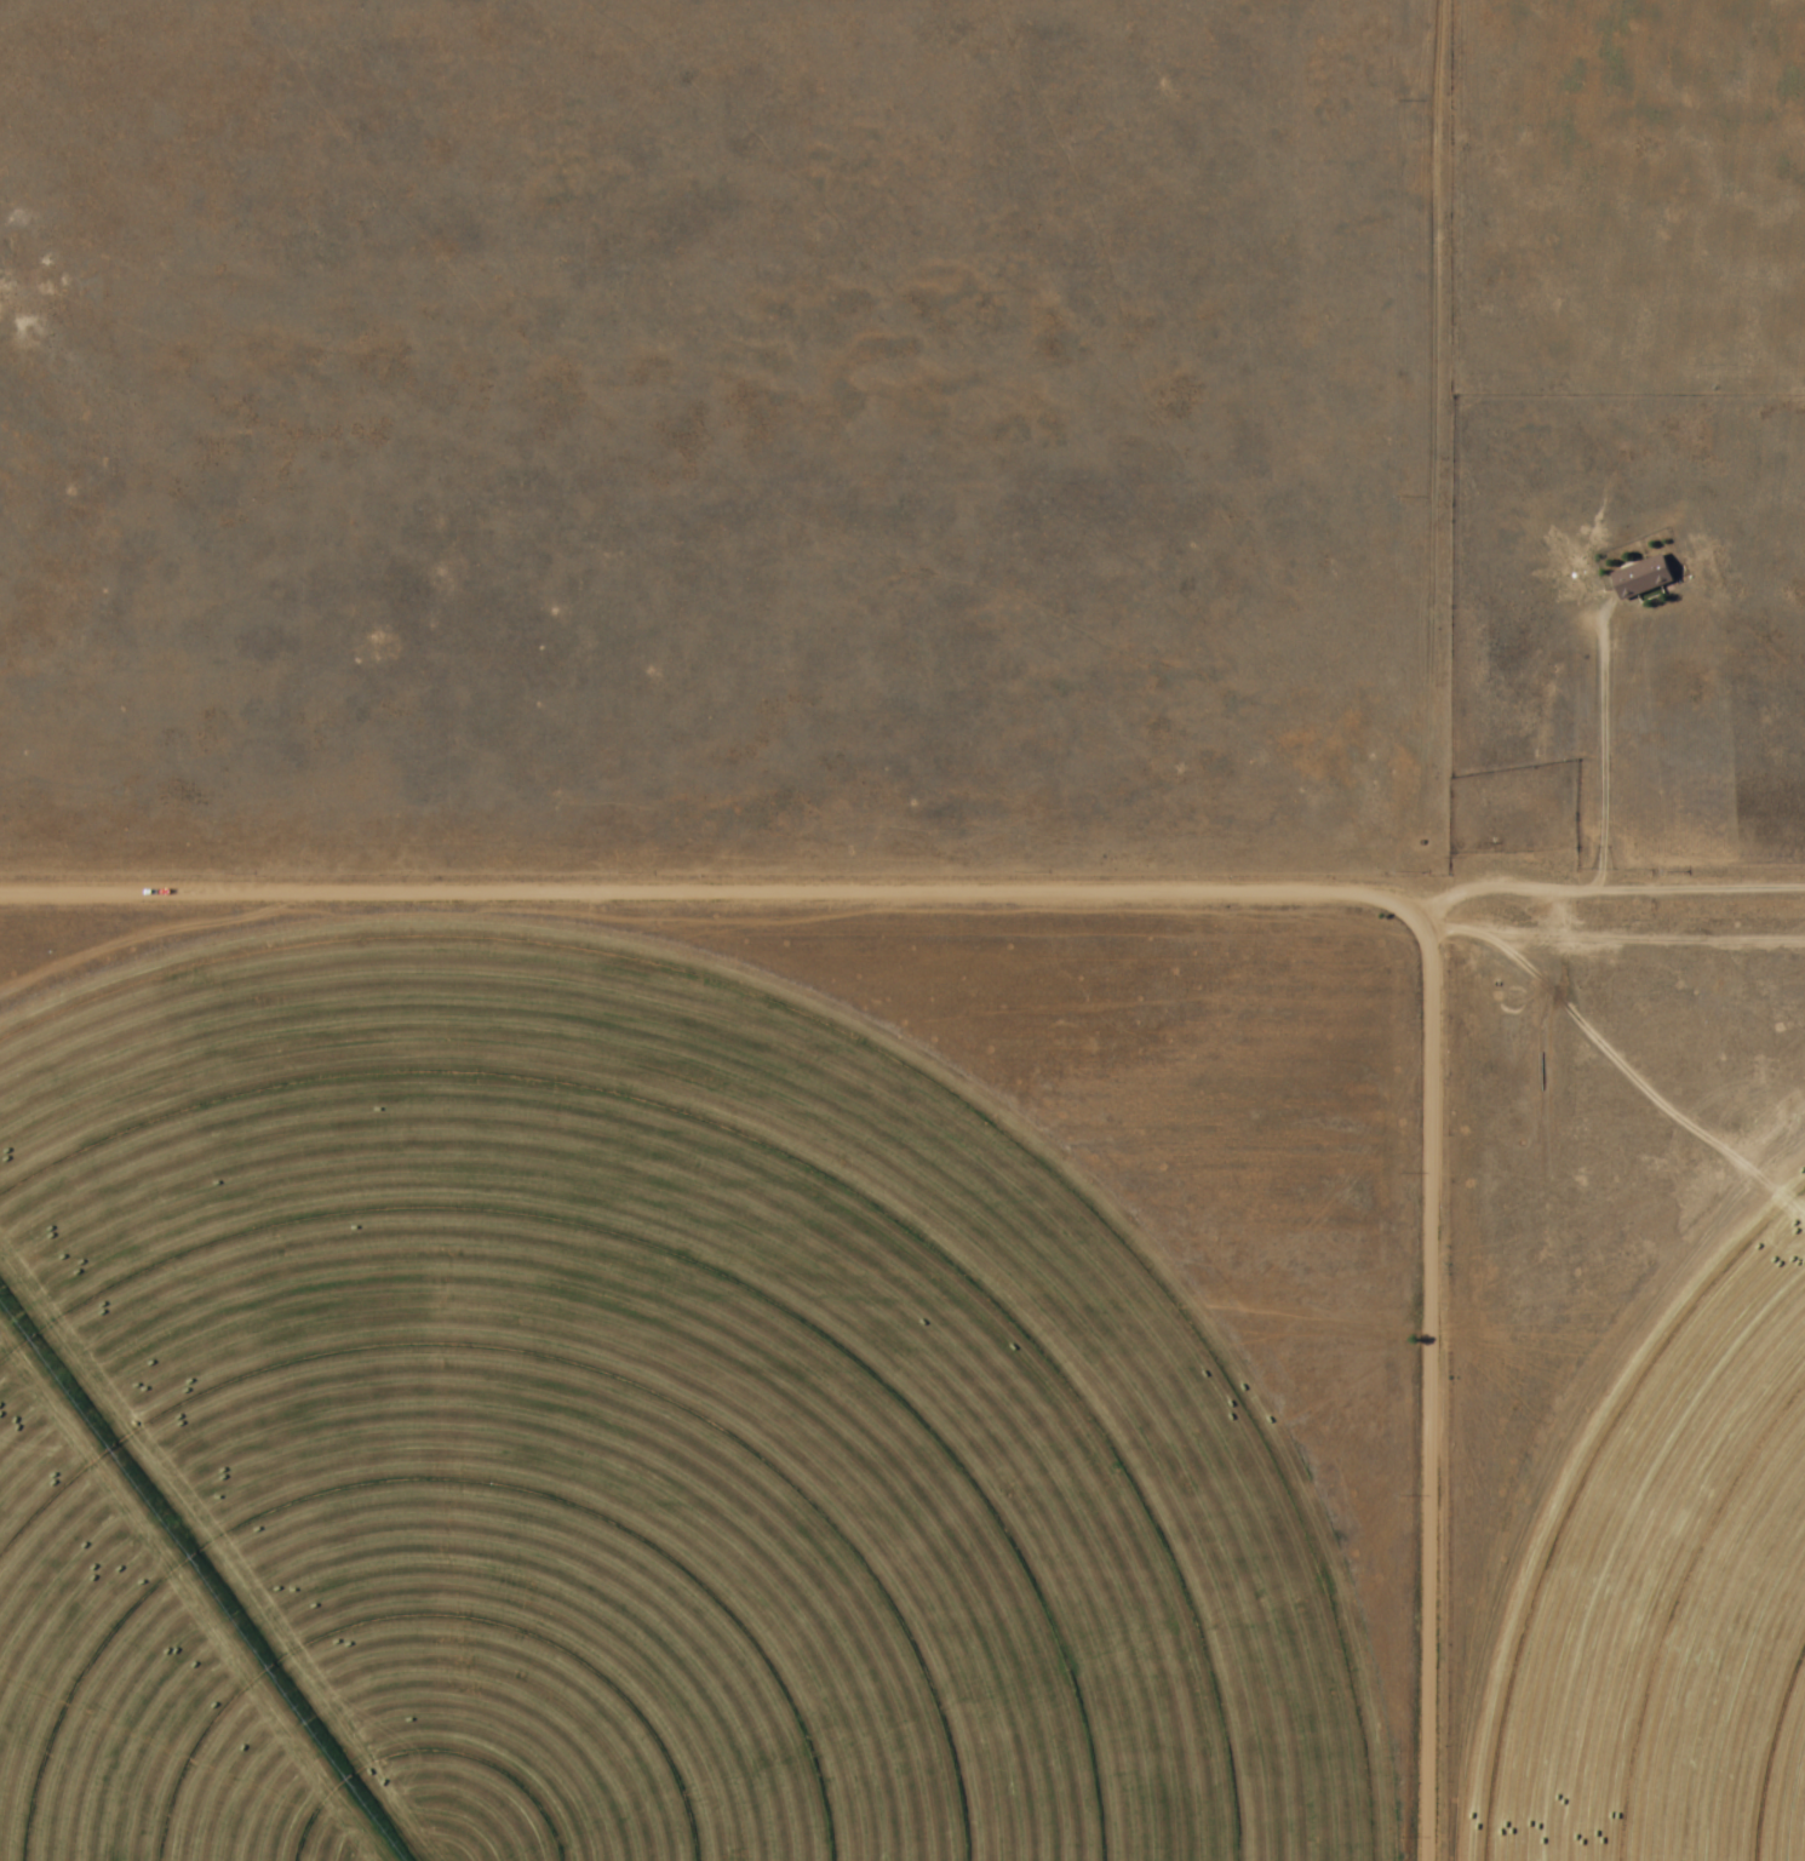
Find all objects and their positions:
building: (1643, 579)
road: (1609, 860)
road: (706, 874)
road: (1415, 930)
crop: (628, 1405)

